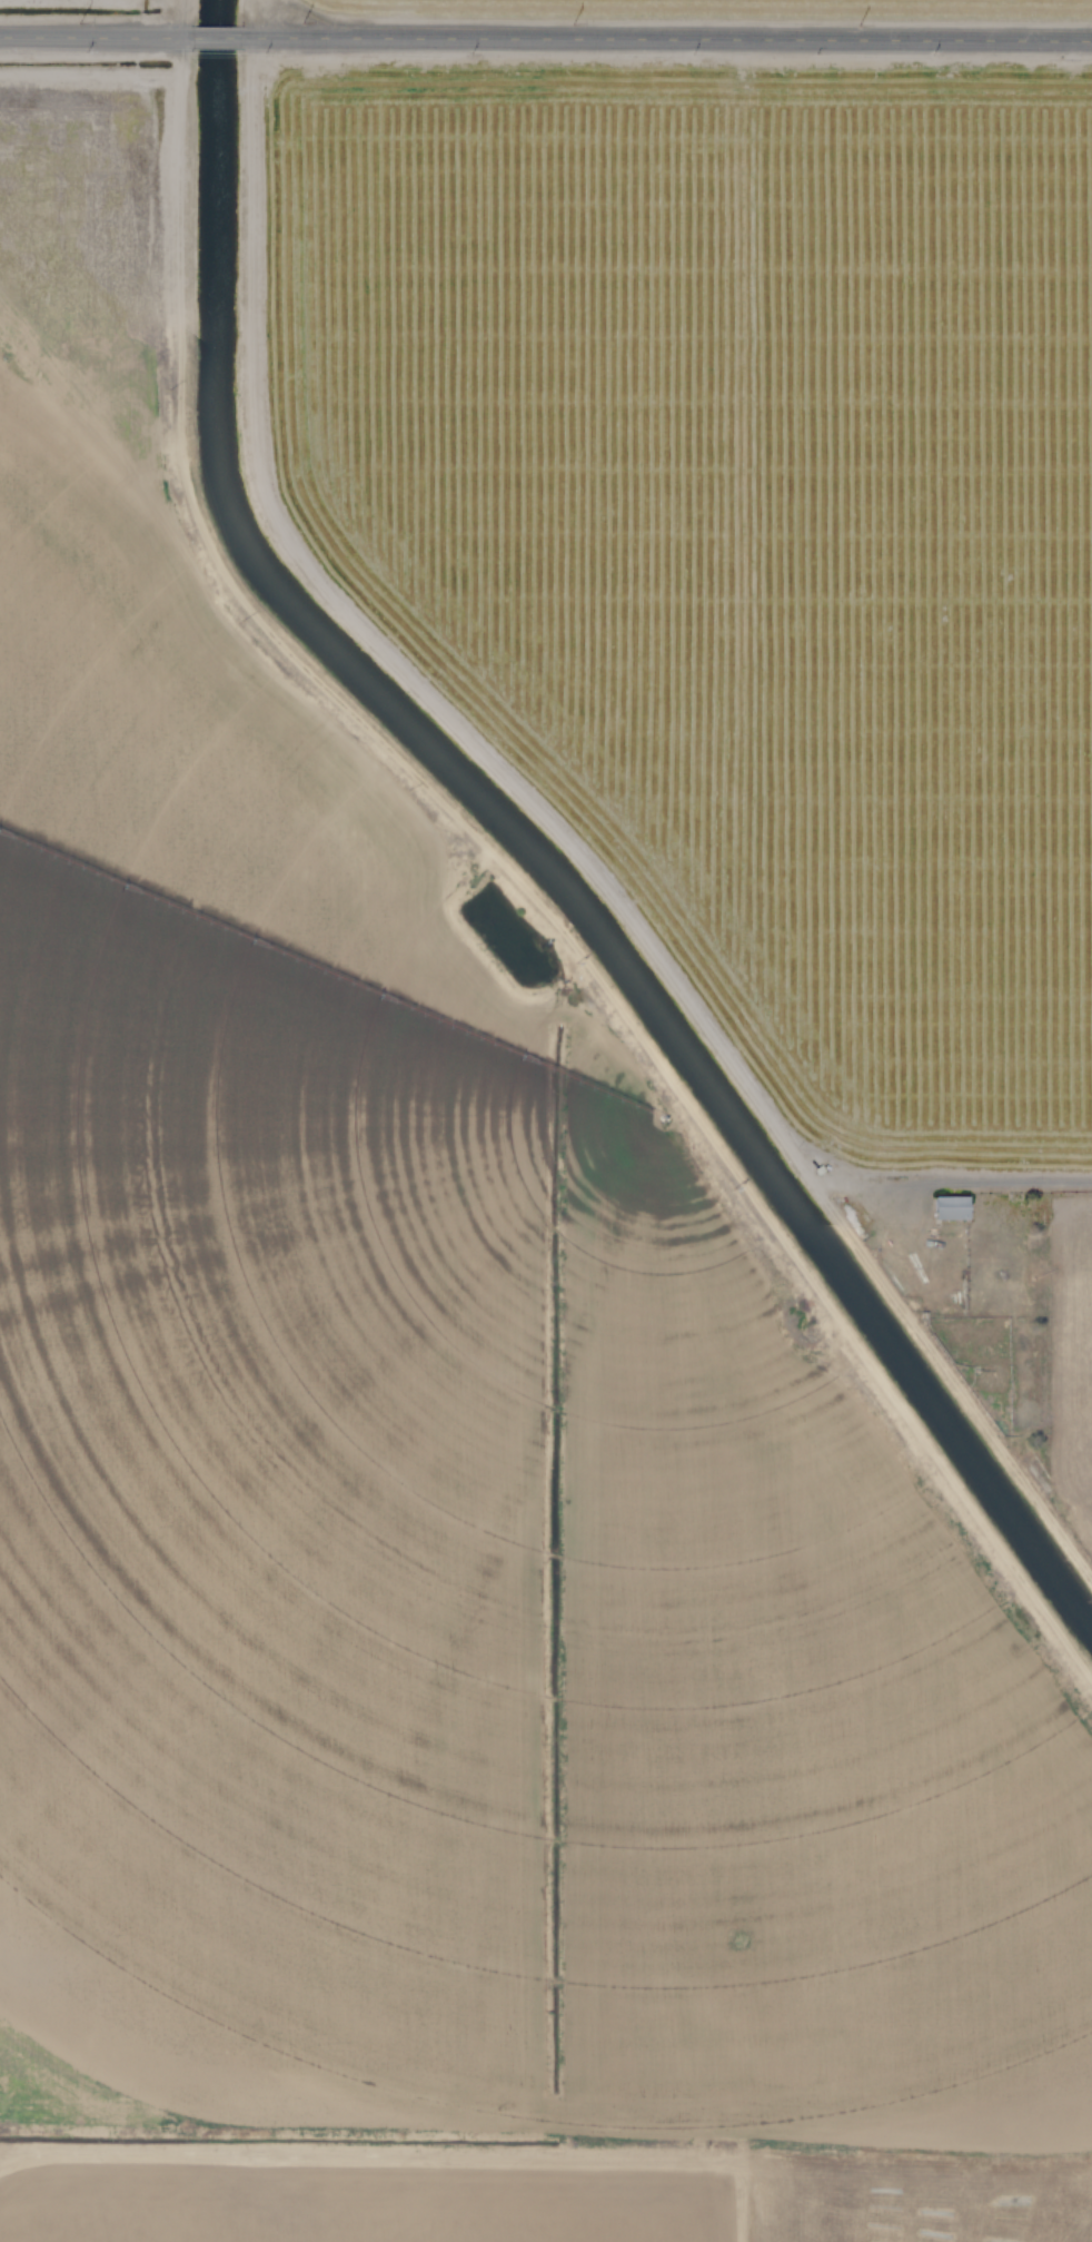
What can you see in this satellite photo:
road: (93, 36)
road: (216, 36)
road: (667, 39)
building: (945, 1206)

